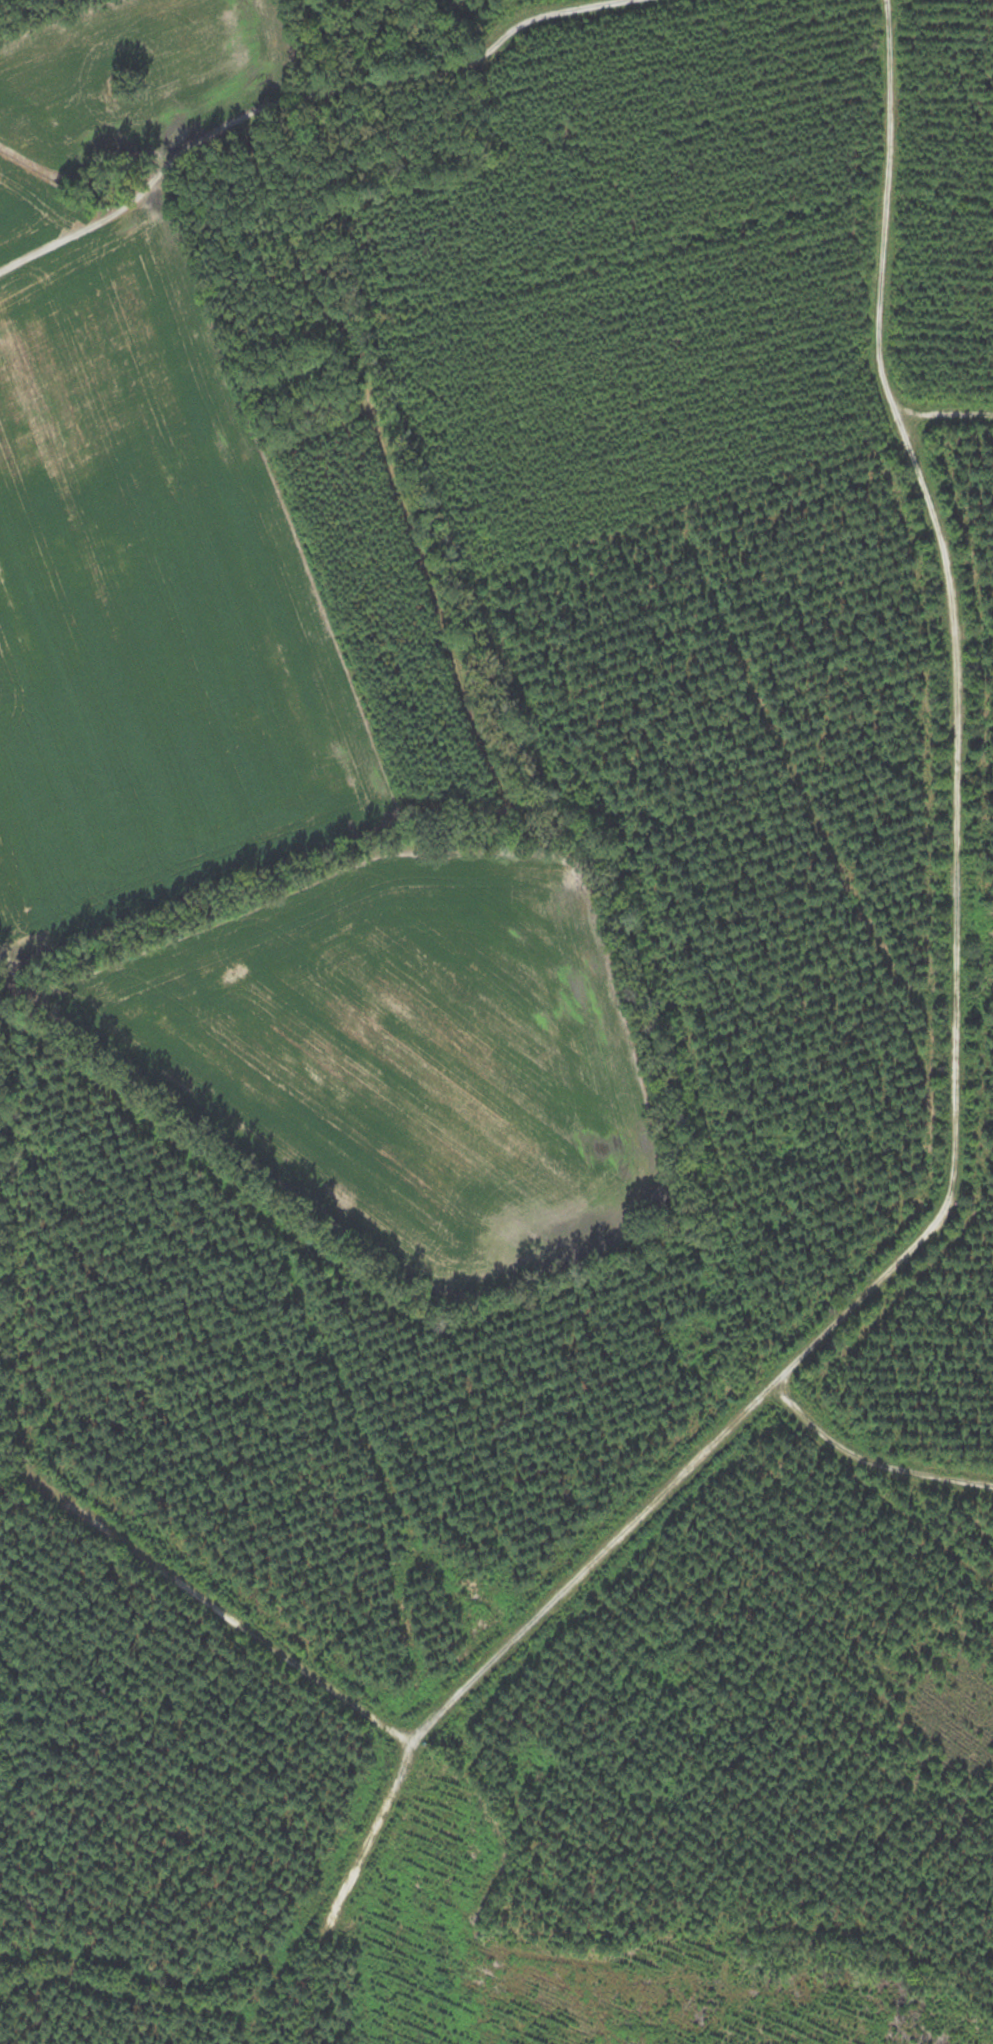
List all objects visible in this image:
road: (290, 93)
road: (942, 1203)
road: (368, 1827)

